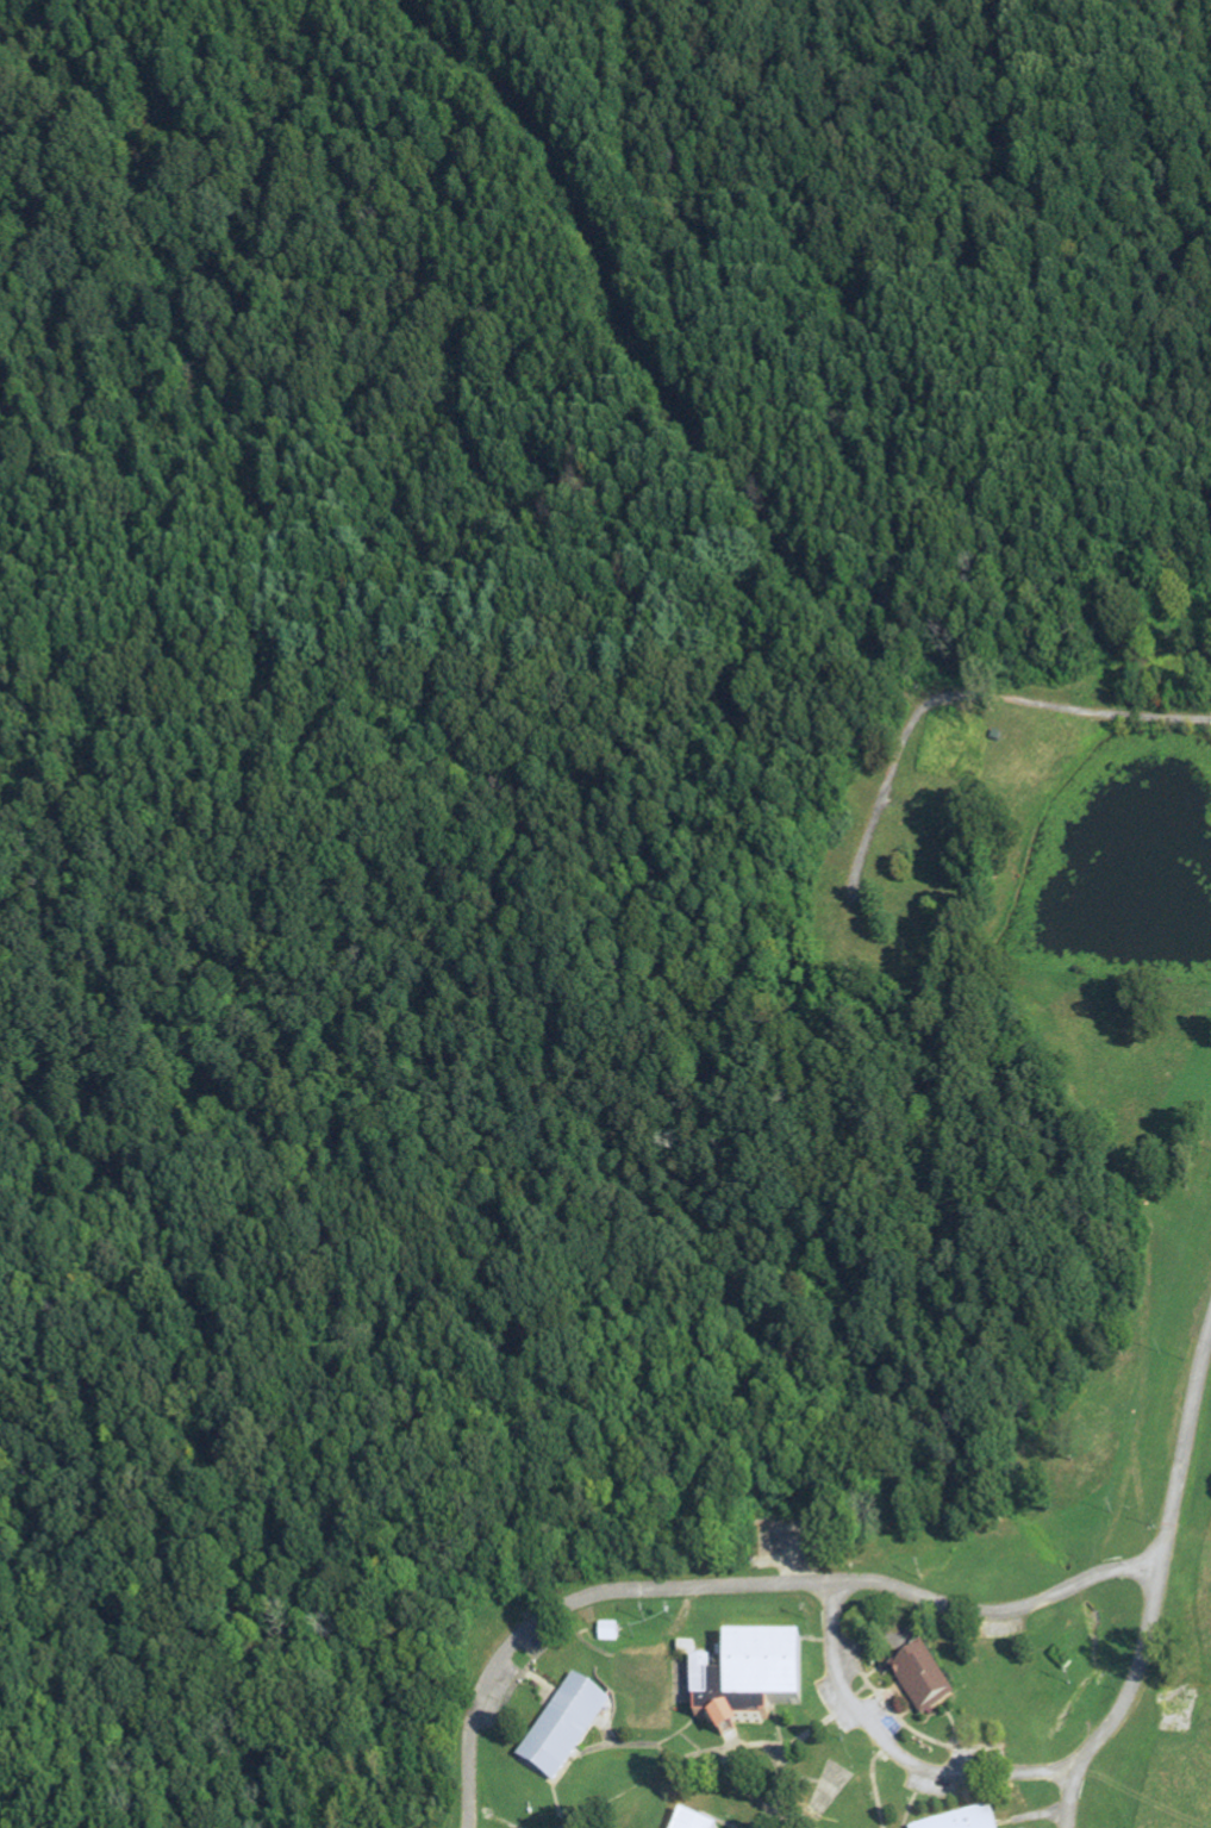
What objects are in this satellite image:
road: (642, 363)
road: (961, 694)
road: (1181, 1431)
road: (572, 1606)
road: (916, 1623)
road: (792, 1639)
road: (517, 1680)
road: (542, 1683)
building: (749, 1683)
building: (925, 1683)
road: (856, 1710)
road: (954, 1726)
parking lot: (895, 1727)
building: (564, 1728)
road: (912, 1730)
road: (606, 1732)
road: (736, 1740)
road: (782, 1751)
road: (778, 1758)
road: (678, 1763)
road: (874, 1771)
road: (968, 1793)
road: (1069, 1796)
road: (915, 1798)
road: (781, 1815)
road: (1041, 1815)
road: (714, 1820)
building: (692, 1822)
building: (972, 1822)

